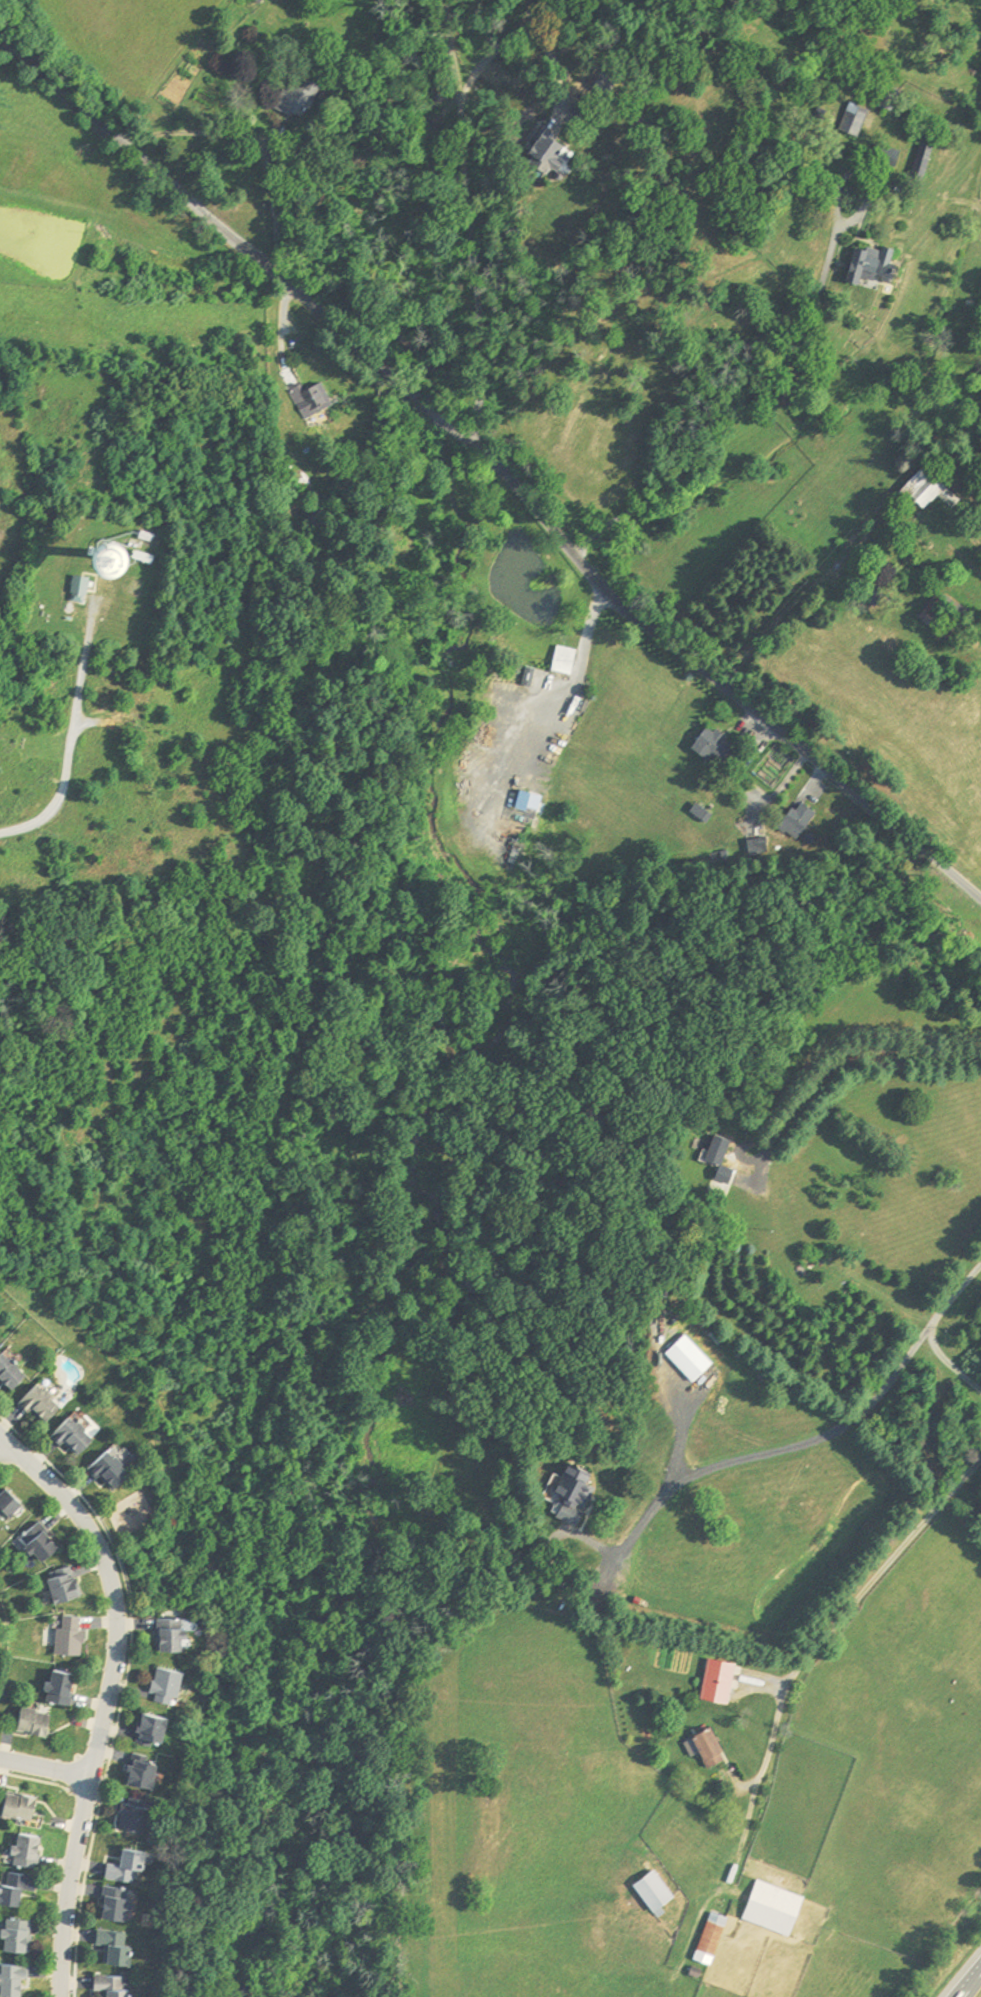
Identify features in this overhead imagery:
building: (258, 1)
crop: (133, 38)
road: (499, 47)
road: (557, 71)
building: (604, 83)
building: (885, 96)
building: (297, 97)
building: (852, 119)
road: (255, 141)
building: (543, 150)
building: (921, 152)
building: (886, 154)
building: (558, 176)
crop: (98, 185)
road: (213, 219)
road: (469, 221)
building: (873, 265)
road: (283, 322)
road: (780, 359)
building: (310, 399)
road: (436, 415)
building: (926, 489)
building: (91, 554)
water tower: (91, 555)
building: (79, 587)
road: (782, 620)
building: (566, 660)
road: (704, 668)
road: (578, 676)
road: (73, 741)
building: (710, 745)
road: (782, 782)
road: (814, 782)
building: (532, 804)
building: (796, 819)
road: (856, 1051)
building: (726, 1160)
building: (1, 1344)
road: (946, 1362)
building: (16, 1373)
building: (50, 1405)
building: (83, 1437)
road: (1, 1441)
road: (804, 1443)
building: (119, 1472)
building: (570, 1492)
building: (14, 1507)
building: (48, 1544)
building: (71, 1587)
building: (179, 1637)
building: (76, 1638)
road: (816, 1645)
building: (173, 1688)
building: (66, 1689)
road: (106, 1698)
building: (38, 1723)
building: (161, 1733)
building: (714, 1749)
road: (45, 1768)
building: (149, 1775)
building: (23, 1808)
building: (141, 1817)
building: (32, 1853)
building: (133, 1869)
building: (23, 1889)
building: (658, 1893)
building: (123, 1905)
building: (778, 1910)
building: (716, 1935)
building: (23, 1936)
building: (122, 1947)
building: (19, 1980)
building: (120, 1985)
road: (972, 1985)

